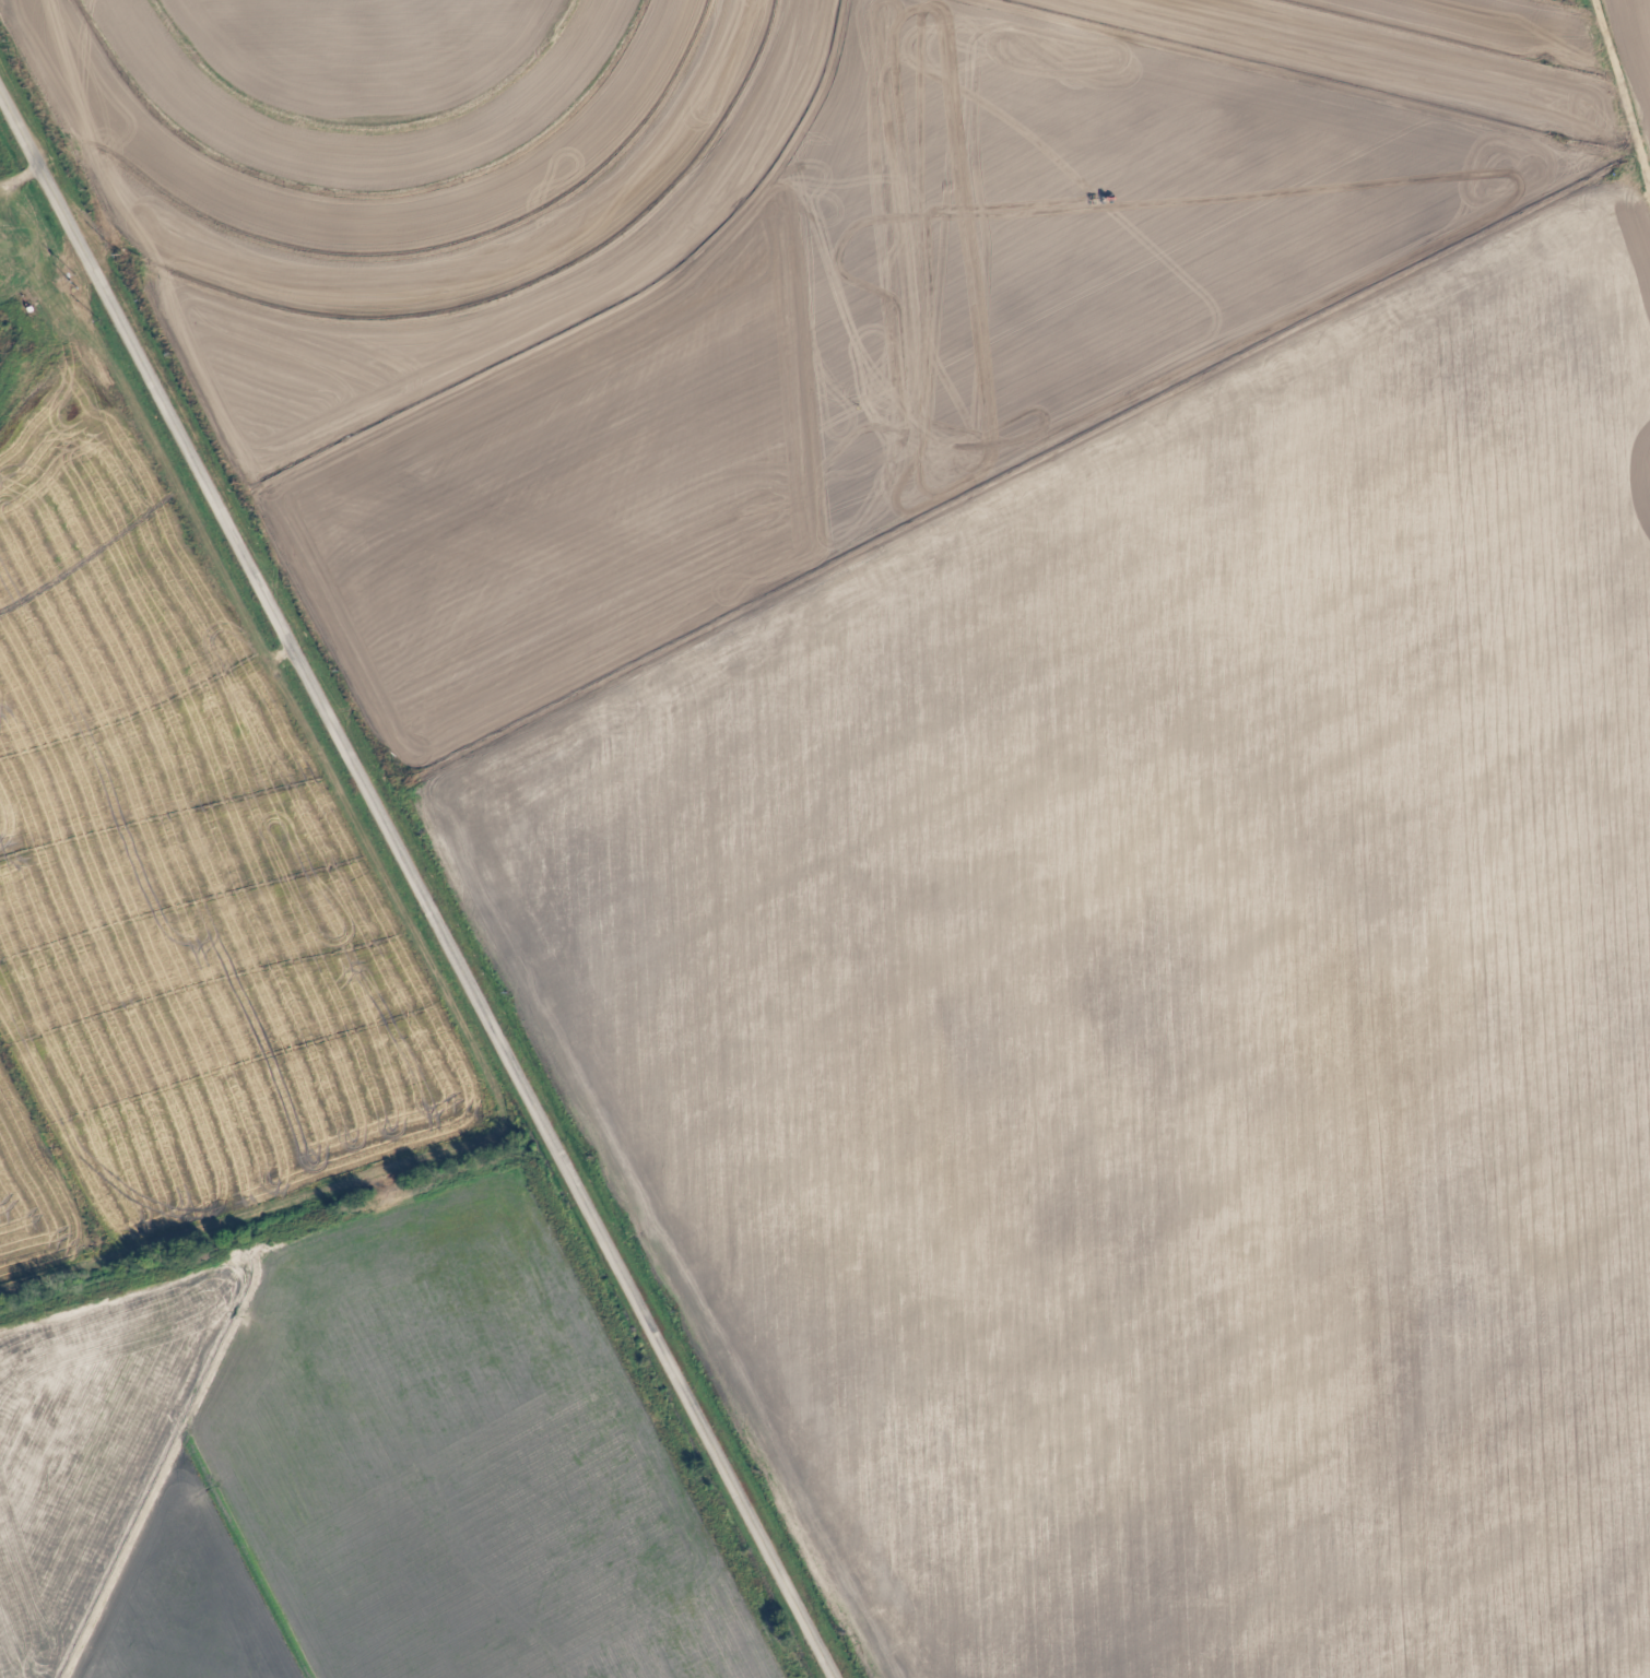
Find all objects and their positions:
road: (415, 884)

